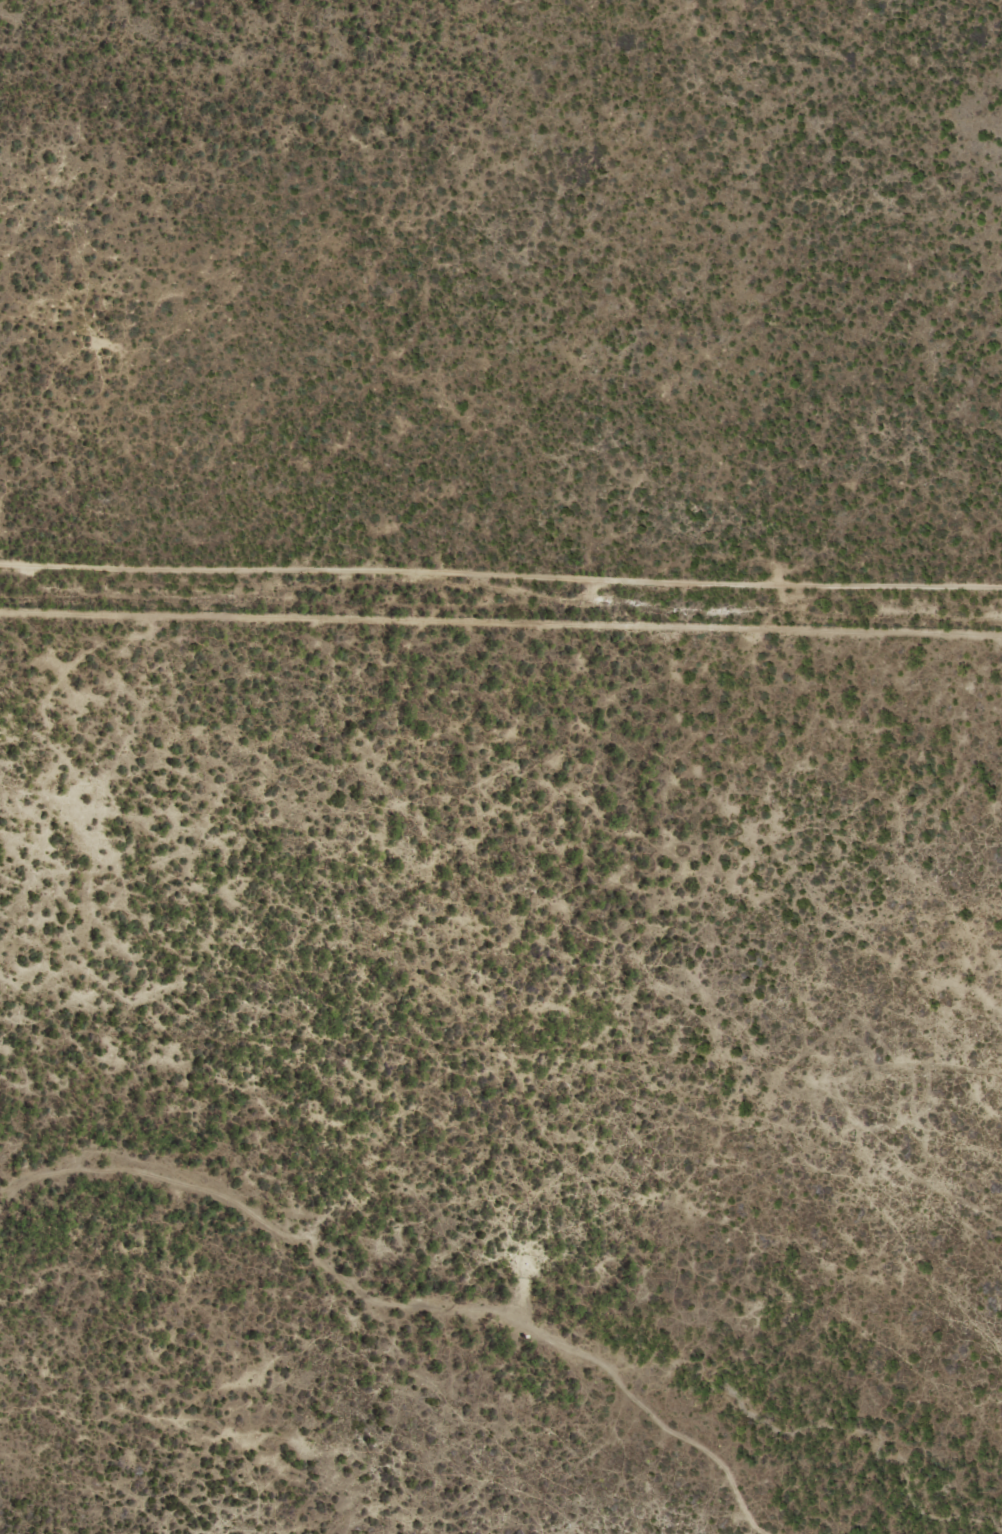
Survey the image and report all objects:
road: (500, 576)
road: (501, 621)

